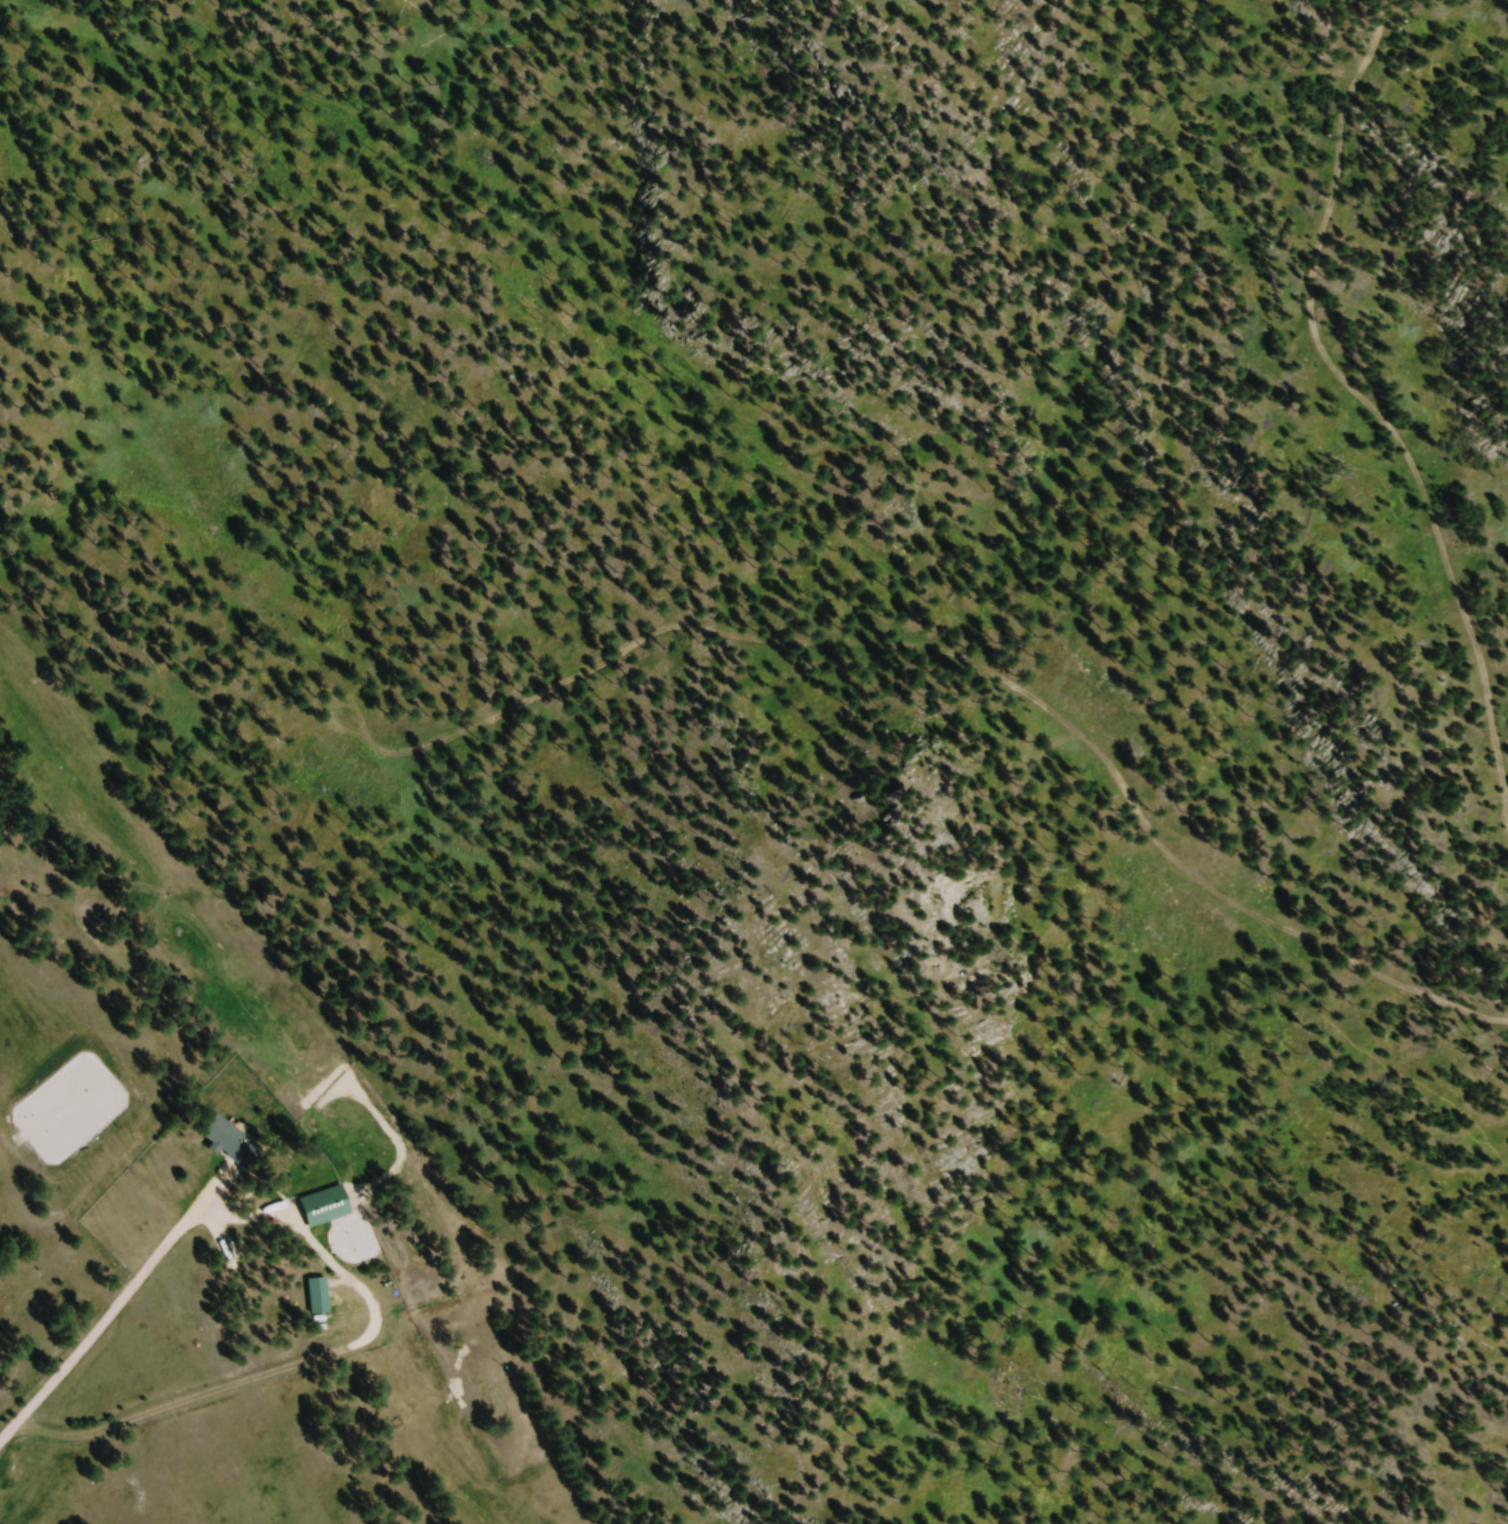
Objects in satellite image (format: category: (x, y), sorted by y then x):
road: (1370, 409)
road: (682, 626)
building: (236, 1144)
building: (331, 1208)
building: (324, 1302)
road: (85, 1339)

